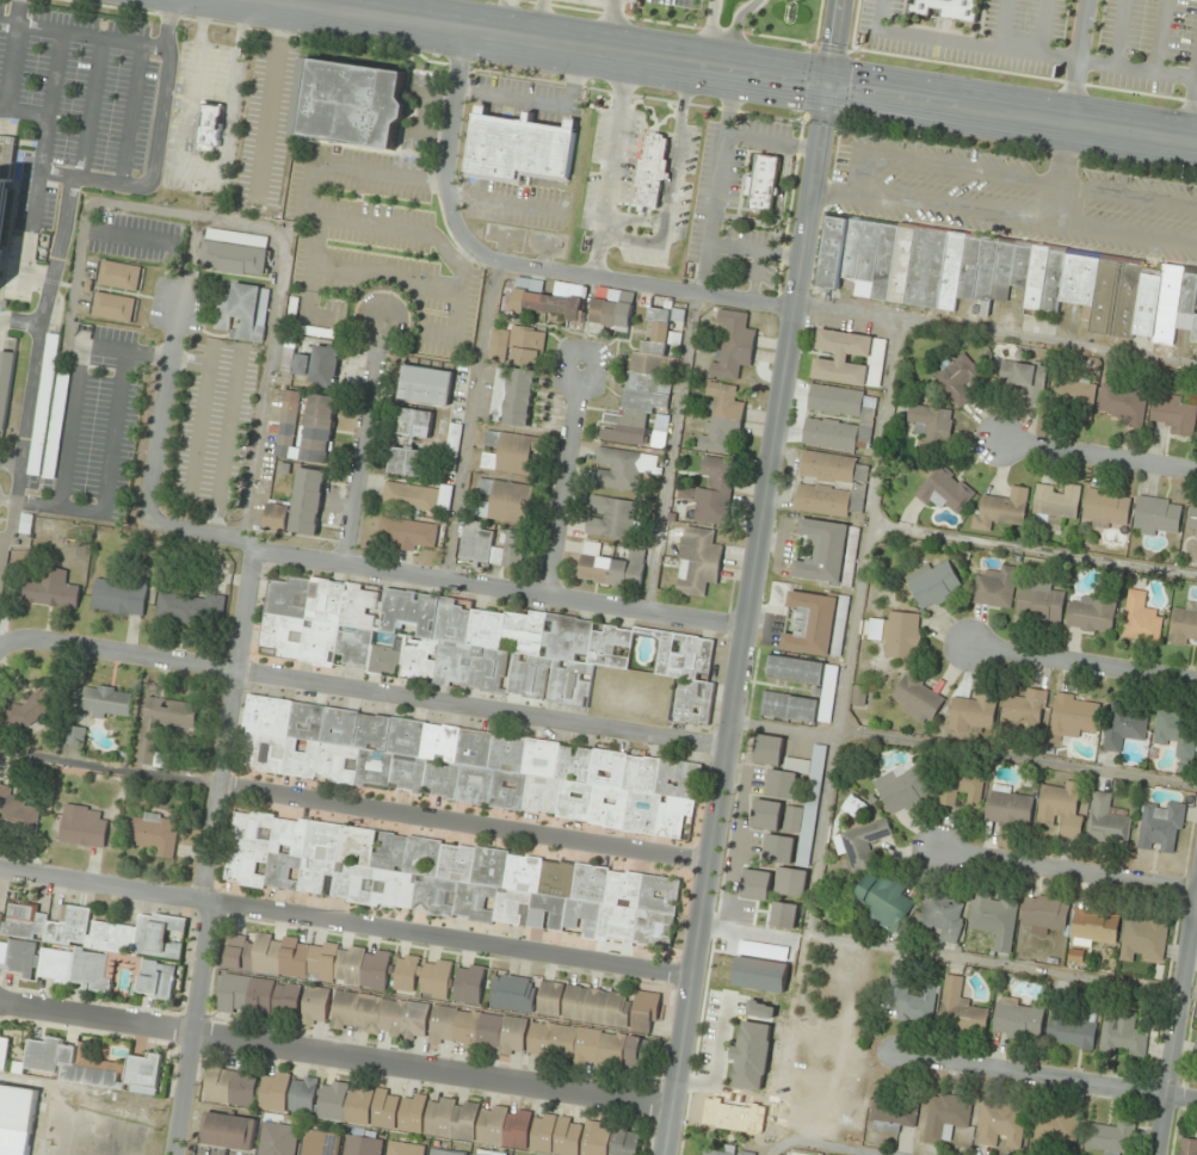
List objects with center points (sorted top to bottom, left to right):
building: (948, 8)
road: (537, 20)
road: (609, 25)
road: (733, 31)
road: (704, 32)
road: (84, 35)
road: (961, 45)
road: (12, 55)
road: (1076, 61)
road: (734, 68)
road: (54, 74)
traffic signals: (822, 82)
road: (270, 98)
building: (350, 103)
road: (90, 107)
road: (24, 111)
road: (130, 115)
road: (449, 123)
building: (208, 125)
parking lot: (264, 129)
road: (769, 142)
road: (43, 143)
road: (155, 147)
building: (516, 148)
road: (609, 165)
road: (203, 169)
building: (650, 171)
road: (671, 171)
road: (1061, 172)
building: (5, 177)
road: (1010, 177)
road: (718, 181)
building: (760, 183)
road: (776, 212)
road: (1002, 215)
road: (266, 229)
road: (29, 235)
parking lot: (134, 236)
road: (159, 241)
building: (851, 247)
road: (752, 251)
building: (828, 251)
building: (236, 253)
building: (866, 258)
building: (883, 260)
road: (190, 261)
building: (900, 262)
building: (1019, 264)
building: (968, 265)
building: (926, 266)
building: (1001, 268)
building: (950, 270)
building: (985, 272)
building: (117, 274)
road: (753, 276)
road: (610, 279)
building: (1035, 279)
building: (1078, 279)
building: (1051, 282)
building: (1104, 294)
building: (548, 298)
building: (1125, 298)
building: (1186, 298)
building: (1146, 301)
parking lot: (175, 304)
building: (1166, 304)
building: (111, 307)
building: (612, 309)
building: (243, 311)
road: (845, 315)
road: (19, 322)
building: (1193, 326)
building: (843, 344)
building: (517, 345)
building: (730, 345)
road: (117, 351)
road: (32, 363)
building: (300, 365)
building: (322, 365)
building: (838, 372)
building: (957, 378)
building: (1022, 378)
building: (649, 381)
building: (5, 382)
building: (424, 385)
building: (1070, 393)
building: (496, 394)
building: (834, 400)
building: (42, 403)
building: (1122, 403)
road: (161, 413)
building: (1172, 413)
building: (720, 418)
road: (468, 419)
building: (928, 421)
building: (409, 422)
building: (286, 424)
building: (54, 425)
parking lot: (92, 426)
road: (68, 427)
building: (314, 430)
building: (828, 434)
road: (363, 443)
building: (450, 447)
road: (668, 451)
building: (511, 452)
road: (1097, 455)
building: (405, 461)
road: (10, 462)
building: (826, 467)
building: (624, 468)
road: (106, 475)
road: (561, 480)
building: (712, 490)
building: (943, 490)
building: (408, 496)
building: (442, 496)
building: (504, 500)
building: (821, 500)
road: (6, 501)
building: (306, 501)
building: (1054, 502)
building: (1102, 508)
building: (1000, 509)
building: (1154, 515)
building: (276, 518)
building: (611, 518)
building: (1192, 520)
building: (406, 533)
road: (1, 538)
building: (492, 546)
road: (1031, 550)
building: (821, 551)
building: (698, 562)
building: (611, 568)
road: (751, 577)
road: (443, 579)
building: (931, 583)
building: (994, 588)
building: (53, 591)
building: (121, 597)
building: (1038, 603)
building: (192, 609)
building: (1090, 614)
building: (1139, 618)
building: (810, 624)
building: (1183, 624)
building: (901, 635)
road: (10, 640)
building: (473, 644)
road: (846, 663)
road: (1082, 663)
building: (794, 669)
road: (372, 692)
building: (857, 696)
building: (915, 698)
building: (107, 702)
building: (788, 706)
building: (1024, 708)
building: (31, 710)
building: (970, 712)
building: (265, 715)
building: (1070, 716)
building: (304, 722)
building: (338, 727)
building: (1121, 727)
road: (782, 730)
building: (371, 731)
building: (1174, 733)
building: (75, 736)
building: (405, 736)
building: (438, 743)
building: (149, 746)
building: (471, 748)
building: (767, 751)
building: (263, 752)
building: (506, 753)
building: (539, 758)
road: (1017, 758)
building: (298, 760)
building: (335, 762)
building: (573, 764)
building: (372, 767)
road: (109, 768)
building: (606, 768)
building: (407, 774)
building: (640, 774)
building: (440, 779)
building: (677, 779)
building: (473, 785)
building: (779, 785)
building: (960, 785)
building: (900, 787)
building: (506, 790)
building: (539, 795)
building: (573, 801)
building: (852, 807)
building: (606, 808)
building: (1005, 808)
building: (1059, 808)
building: (16, 813)
building: (640, 813)
building: (765, 815)
building: (674, 819)
building: (1104, 821)
road: (462, 822)
building: (1159, 826)
building: (80, 827)
building: (251, 830)
building: (152, 835)
building: (288, 835)
building: (321, 841)
building: (353, 845)
building: (859, 845)
building: (777, 850)
building: (388, 852)
road: (206, 853)
building: (421, 857)
building: (455, 863)
building: (243, 866)
building: (488, 866)
road: (1069, 870)
building: (280, 871)
building: (522, 873)
building: (313, 875)
building: (555, 878)
building: (352, 883)
building: (588, 883)
building: (790, 883)
building: (754, 885)
building: (394, 889)
building: (622, 889)
building: (658, 895)
building: (432, 896)
building: (882, 901)
building: (473, 902)
building: (508, 906)
building: (544, 912)
building: (1042, 914)
building: (939, 915)
building: (581, 916)
building: (992, 919)
road: (345, 922)
building: (613, 926)
building: (1091, 926)
building: (652, 928)
building: (1141, 937)
building: (82, 944)
building: (310, 961)
building: (424, 977)
building: (158, 980)
building: (470, 984)
building: (514, 994)
road: (1187, 994)
building: (260, 995)
building: (914, 1005)
building: (316, 1006)
building: (599, 1006)
building: (958, 1009)
building: (759, 1011)
road: (1176, 1014)
building: (1014, 1019)
building: (1068, 1030)
building: (490, 1032)
building: (1121, 1033)
building: (1195, 1046)
building: (4, 1054)
road: (333, 1057)
building: (752, 1057)
building: (94, 1067)
road: (1045, 1077)
building: (247, 1088)
building: (303, 1095)
building: (18, 1106)
building: (890, 1112)
building: (943, 1117)
building: (469, 1123)
building: (999, 1124)
building: (1054, 1128)
building: (229, 1131)
road: (60, 1134)
building: (278, 1136)
building: (1109, 1137)
building: (321, 1143)
building: (360, 1145)
road: (819, 1145)
building: (1186, 1147)
building: (406, 1149)
building: (446, 1153)
building: (485, 1153)
building: (711, 1153)
building: (745, 1153)

